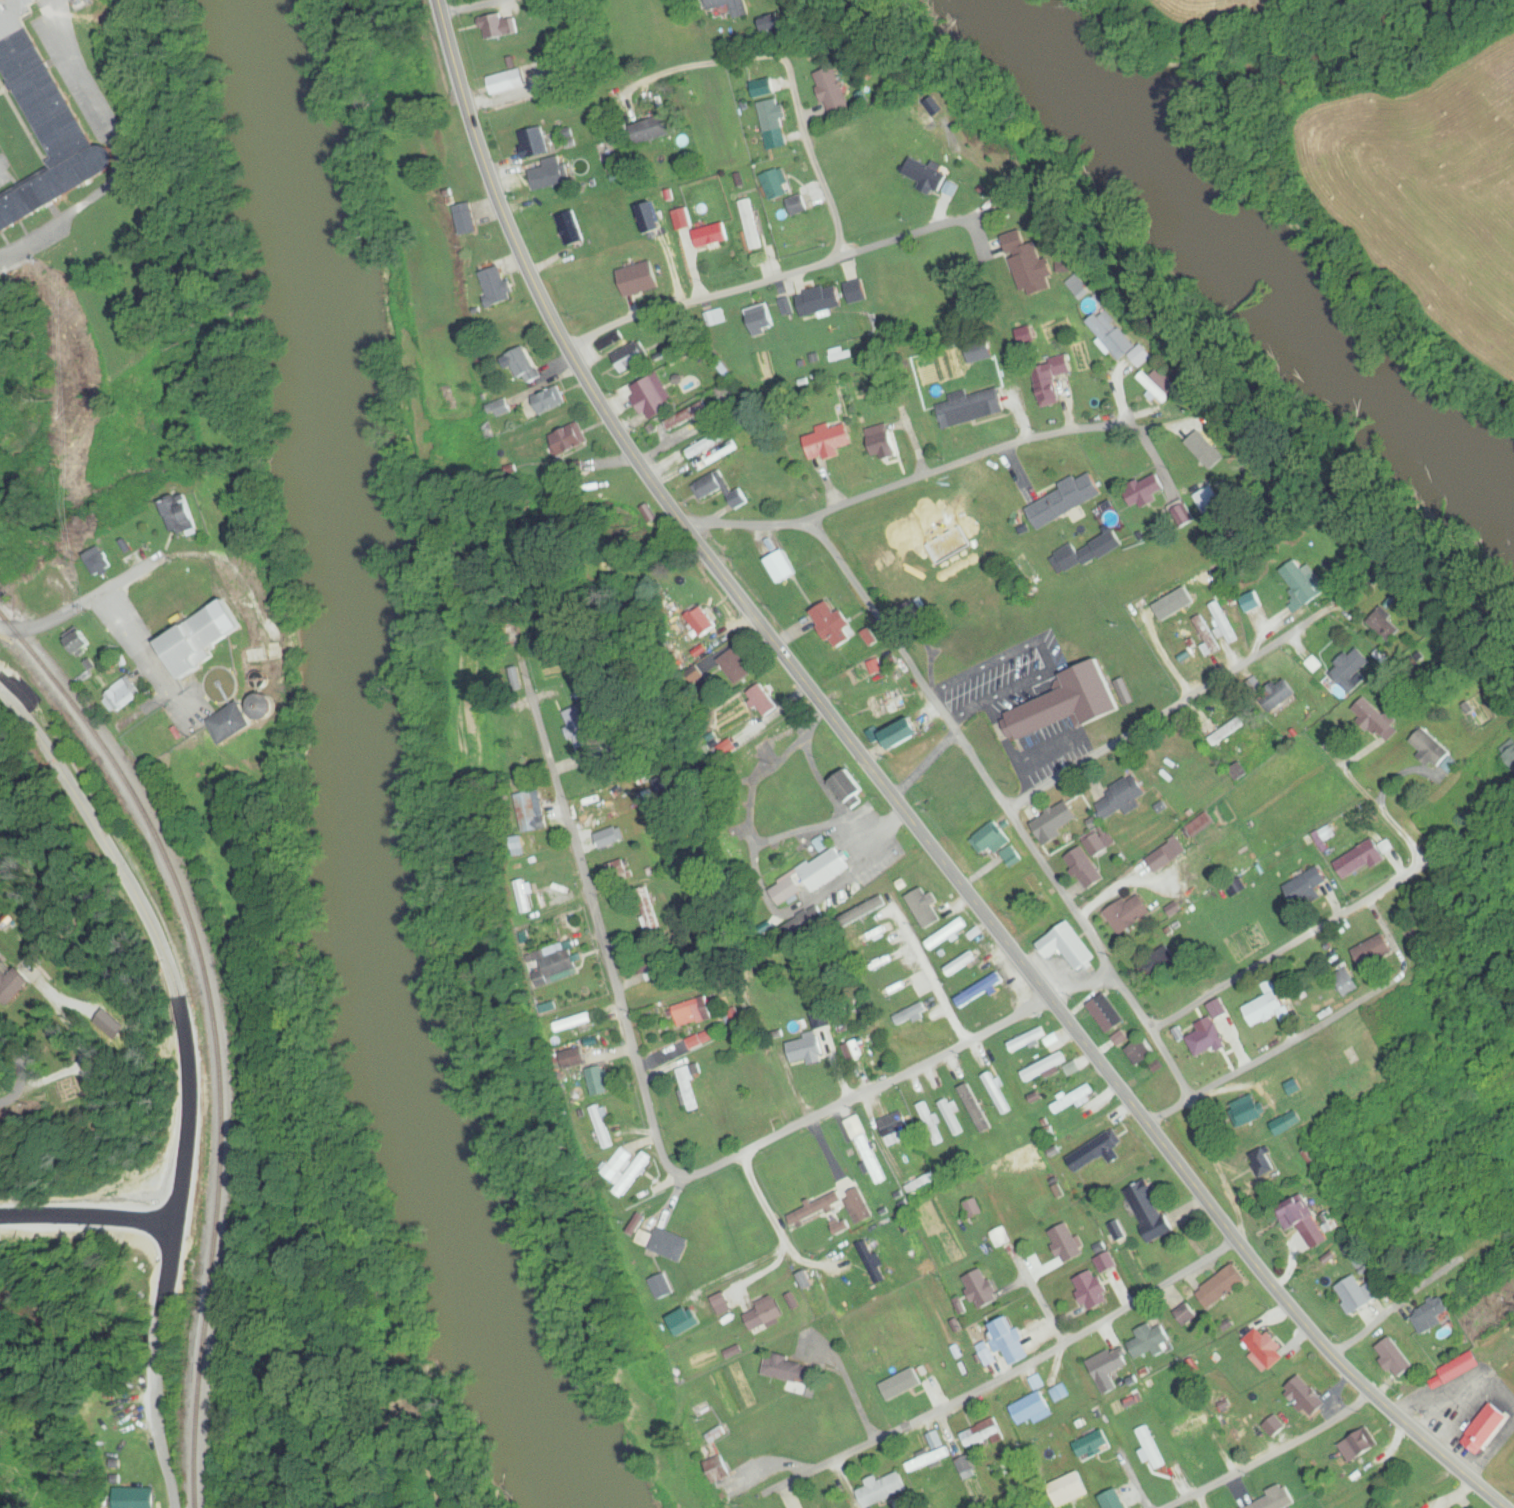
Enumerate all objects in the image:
building: (725, 4)
road: (470, 7)
building: (499, 25)
building: (508, 81)
building: (833, 91)
building: (45, 120)
building: (775, 123)
building: (654, 129)
building: (875, 132)
building: (533, 142)
building: (450, 145)
road: (119, 152)
building: (548, 174)
building: (927, 174)
building: (777, 183)
building: (798, 205)
road: (832, 209)
building: (467, 218)
building: (751, 224)
building: (566, 225)
building: (712, 235)
river: (1252, 260)
building: (498, 286)
building: (856, 291)
building: (821, 300)
building: (760, 318)
building: (1120, 339)
building: (610, 341)
building: (631, 357)
building: (525, 365)
building: (1049, 380)
building: (1161, 385)
building: (653, 397)
building: (548, 401)
building: (972, 409)
building: (687, 416)
road: (1183, 421)
building: (711, 441)
building: (831, 441)
building: (567, 442)
building: (884, 443)
building: (1205, 446)
road: (920, 476)
building: (712, 486)
building: (740, 499)
building: (1208, 500)
building: (1065, 501)
building: (182, 515)
building: (99, 563)
building: (780, 567)
building: (1303, 584)
road: (58, 616)
building: (833, 622)
building: (1387, 625)
building: (1207, 637)
building: (80, 642)
building: (198, 643)
road: (909, 662)
building: (1351, 669)
building: (1280, 694)
building: (120, 696)
building: (764, 700)
building: (1069, 705)
building: (879, 706)
road: (1176, 706)
building: (1375, 718)
building: (236, 724)
building: (581, 728)
building: (784, 731)
building: (1226, 731)
building: (905, 734)
building: (162, 738)
building: (1431, 747)
building: (1508, 753)
river: (361, 770)
building: (1202, 780)
building: (849, 790)
building: (1130, 794)
road: (897, 802)
building: (738, 805)
building: (530, 811)
building: (1200, 824)
building: (609, 838)
building: (998, 845)
building: (1173, 848)
building: (1360, 860)
building: (1086, 869)
building: (617, 870)
building: (810, 878)
building: (1312, 891)
building: (1039, 892)
building: (526, 898)
road: (138, 903)
building: (647, 909)
building: (1130, 914)
road: (1081, 920)
building: (947, 934)
road: (1294, 946)
building: (1067, 947)
building: (1374, 952)
building: (554, 964)
building: (957, 965)
building: (655, 970)
building: (1345, 981)
road: (1084, 989)
building: (1265, 1008)
building: (693, 1012)
building: (1107, 1014)
building: (912, 1015)
building: (574, 1023)
road: (1311, 1031)
railway: (210, 1032)
building: (1029, 1039)
building: (701, 1040)
building: (1207, 1040)
building: (806, 1050)
building: (1140, 1052)
building: (575, 1059)
building: (0, 1064)
building: (1045, 1066)
building: (1073, 1068)
road: (18, 1077)
building: (600, 1081)
building: (688, 1087)
building: (997, 1093)
building: (1072, 1097)
building: (1271, 1100)
building: (764, 1106)
building: (975, 1108)
building: (1249, 1113)
building: (953, 1121)
building: (1289, 1122)
building: (931, 1123)
road: (654, 1125)
building: (603, 1127)
building: (896, 1128)
road: (1207, 1134)
building: (1101, 1146)
building: (866, 1148)
building: (1264, 1161)
building: (628, 1172)
road: (102, 1204)
building: (833, 1208)
building: (1151, 1215)
building: (1304, 1217)
road: (108, 1229)
building: (1000, 1237)
building: (665, 1243)
building: (1066, 1243)
building: (871, 1262)
building: (1106, 1263)
road: (168, 1265)
building: (982, 1288)
building: (1093, 1289)
building: (1466, 1293)
building: (1356, 1294)
road: (1040, 1302)
building: (764, 1314)
building: (1431, 1315)
building: (1184, 1316)
building: (1151, 1340)
building: (1008, 1341)
building: (1264, 1349)
building: (1108, 1369)
building: (789, 1374)
road: (1009, 1376)
building: (1305, 1397)
road: (1257, 1408)
building: (1032, 1409)
building: (1242, 1424)
building: (1487, 1428)
building: (983, 1434)
building: (937, 1444)
building: (1093, 1444)
building: (1359, 1446)
road: (162, 1447)
building: (1151, 1448)
road: (1273, 1455)
building: (966, 1468)
road: (1121, 1486)
building: (739, 1488)
building: (883, 1490)
building: (136, 1497)
building: (1276, 1501)
building: (1115, 1503)

